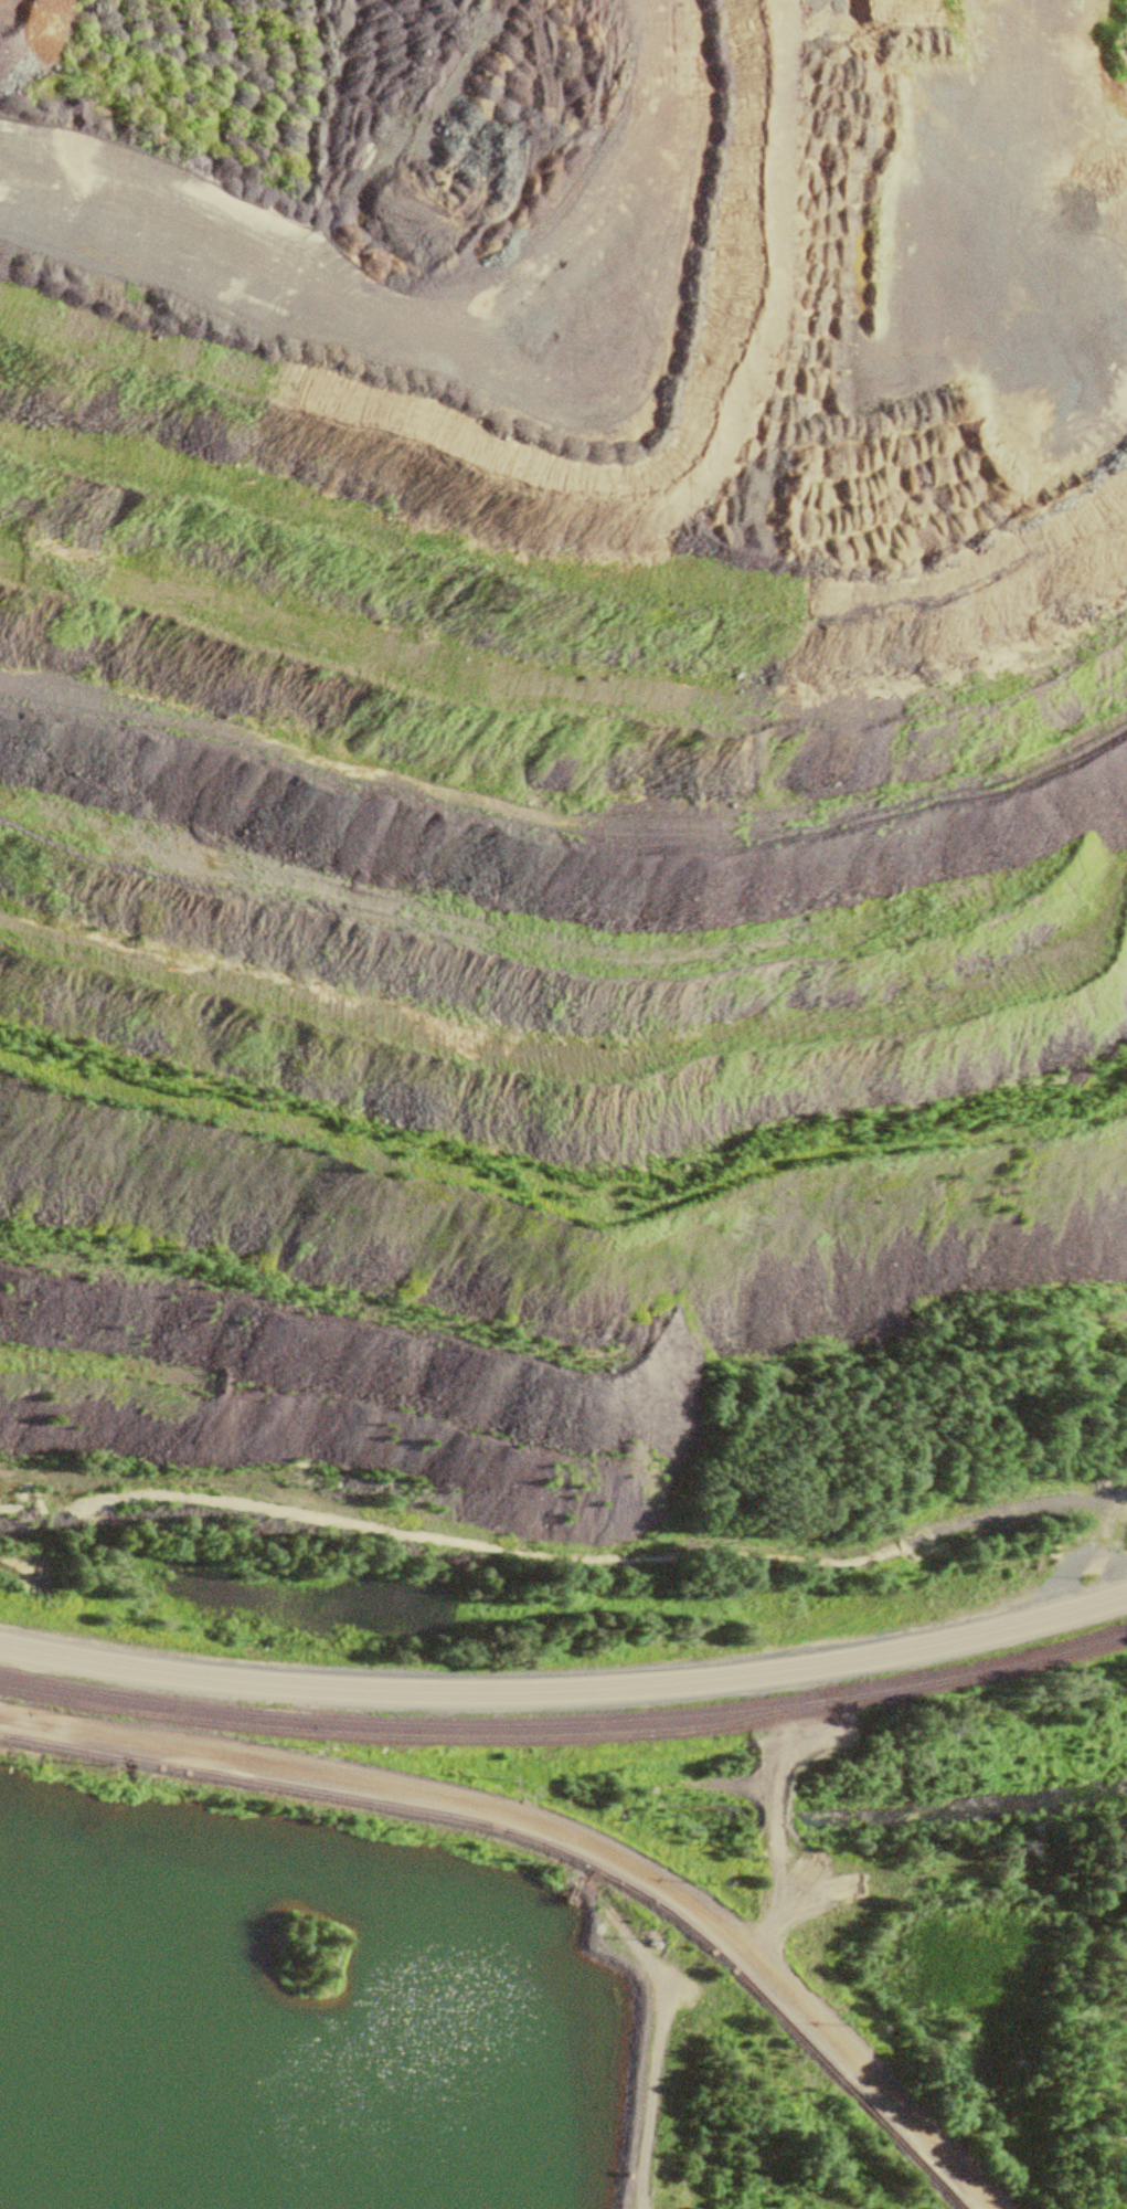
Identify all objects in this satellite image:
quarry: (541, 725)
road: (566, 1689)
railway: (566, 1731)
road: (363, 1783)
road: (848, 2061)

